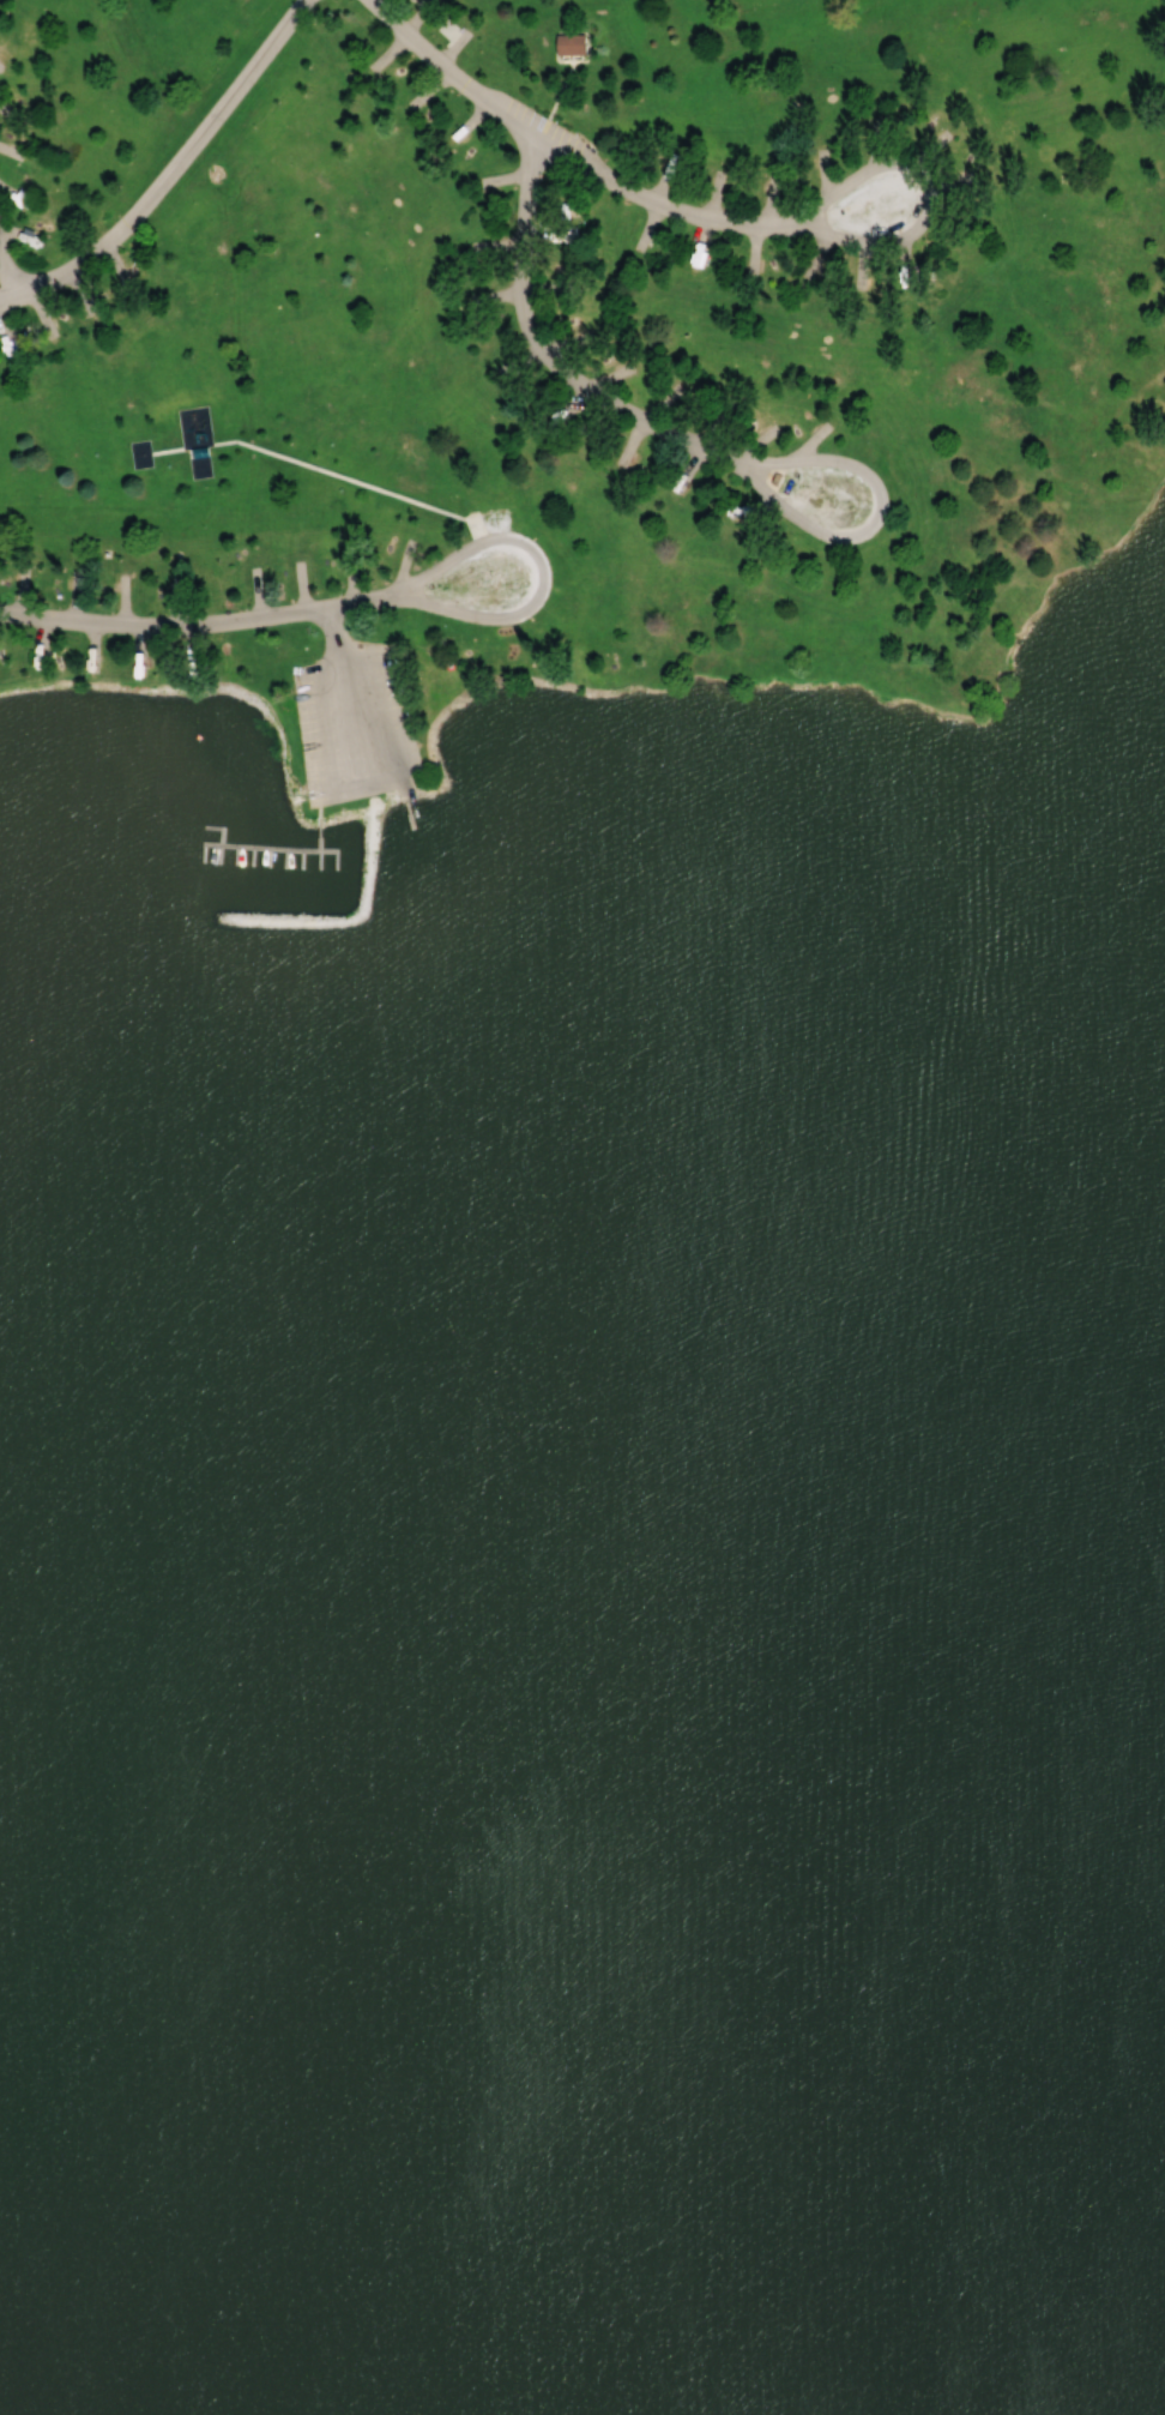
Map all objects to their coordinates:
building: (569, 44)
road: (567, 158)
road: (170, 168)
road: (928, 187)
building: (562, 237)
road: (7, 263)
road: (696, 442)
road: (543, 570)
road: (204, 622)
road: (330, 622)
road: (831, 651)
parking lot: (355, 724)
park: (582, 1207)
river: (582, 1693)

